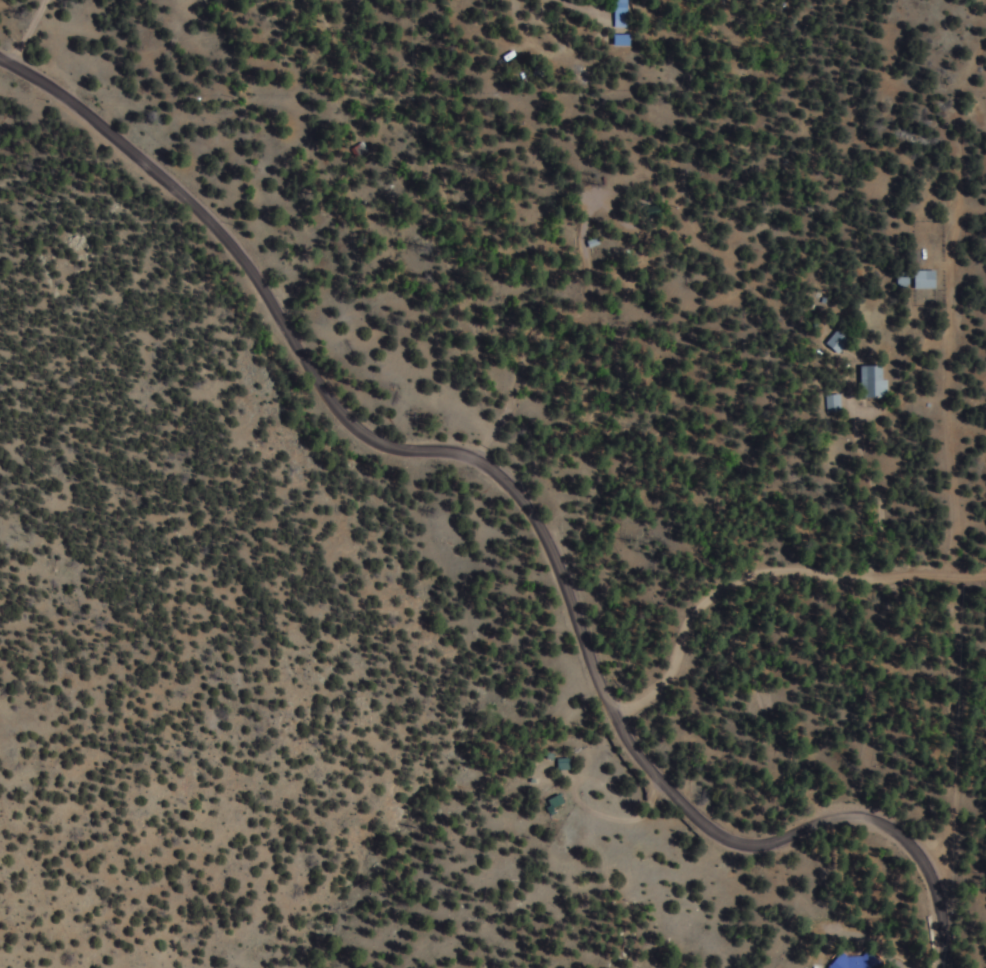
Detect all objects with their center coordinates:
road: (176, 188)
road: (972, 204)
building: (930, 280)
building: (843, 343)
building: (878, 383)
building: (839, 404)
road: (949, 532)
road: (766, 572)
road: (618, 718)
building: (569, 764)
building: (561, 801)
building: (861, 962)

